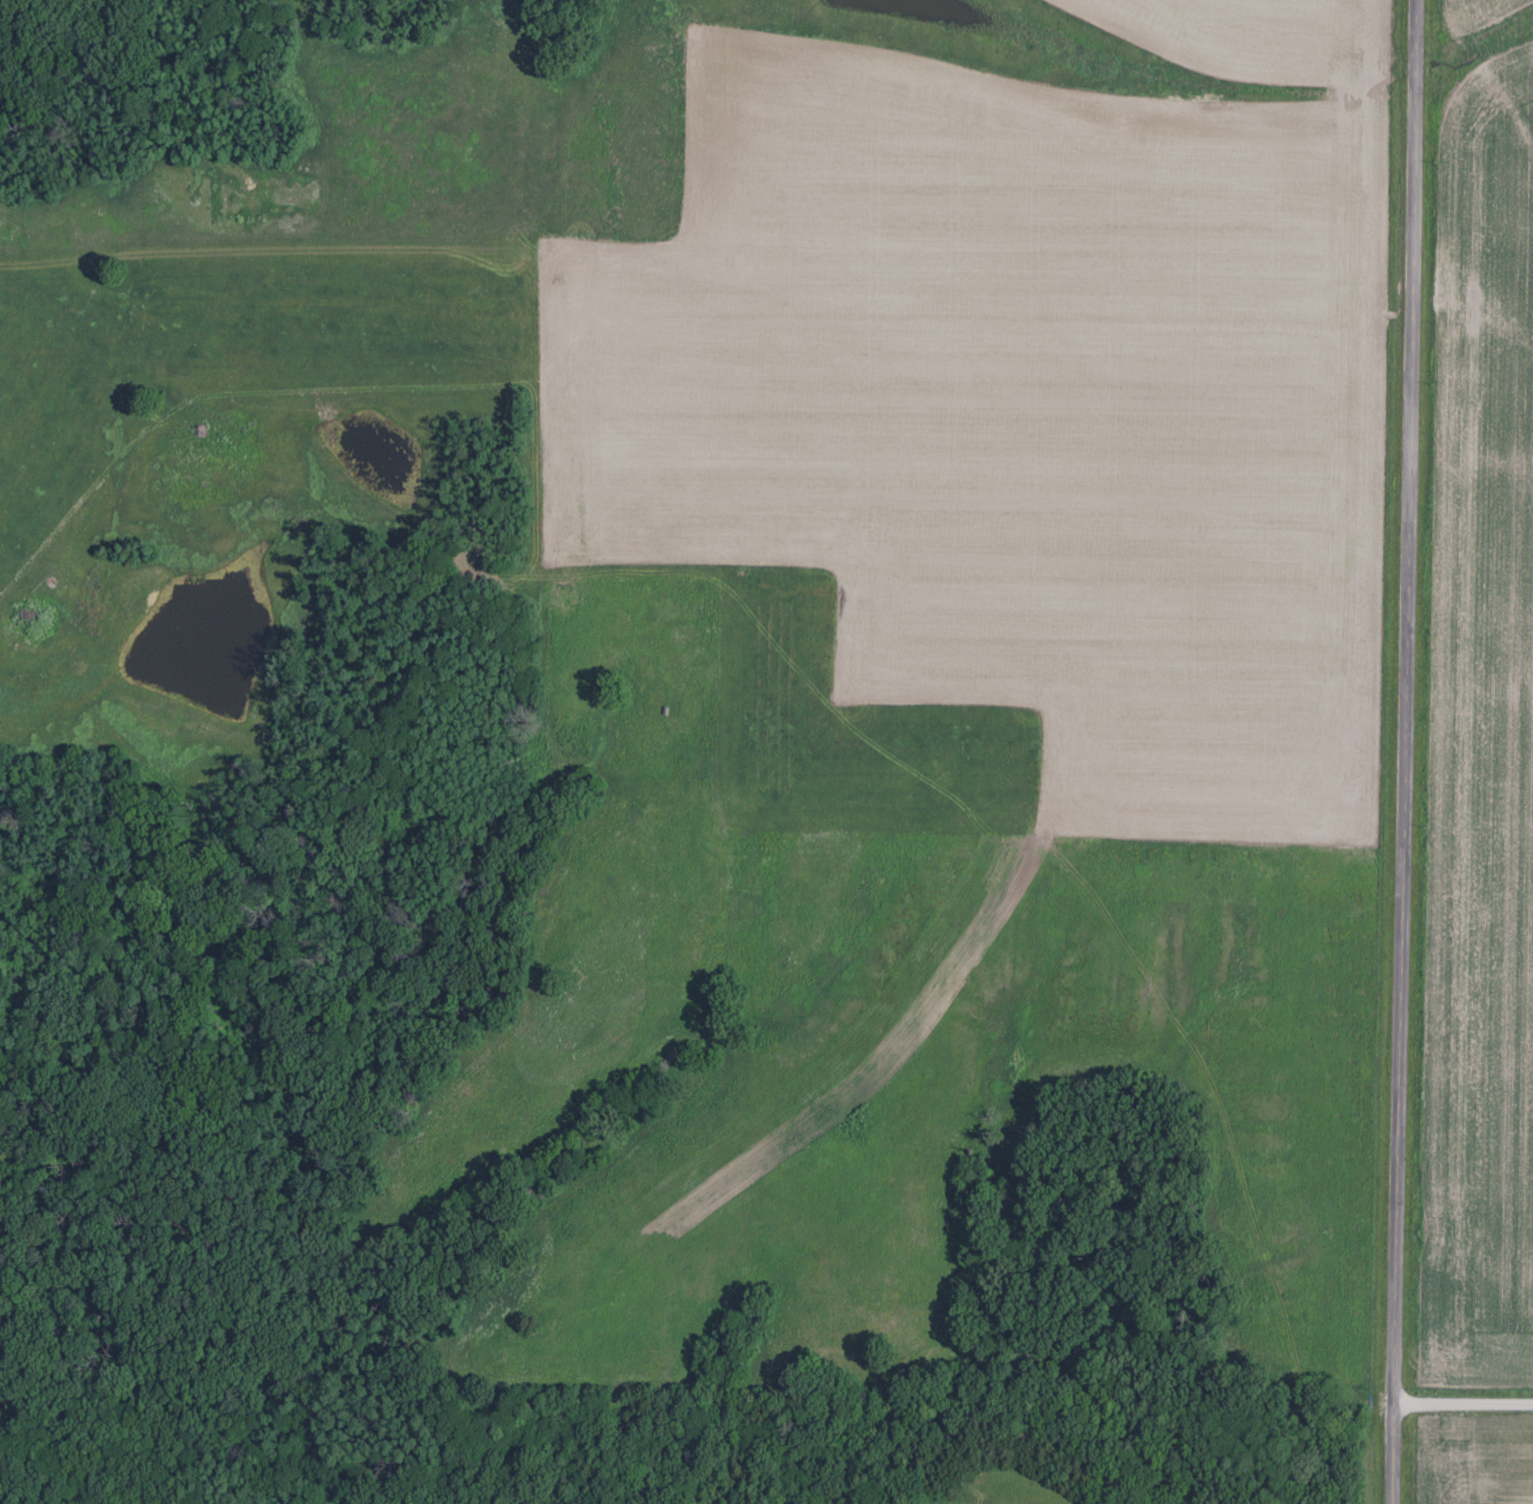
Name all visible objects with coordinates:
road: (1408, 752)
road: (1464, 1405)

